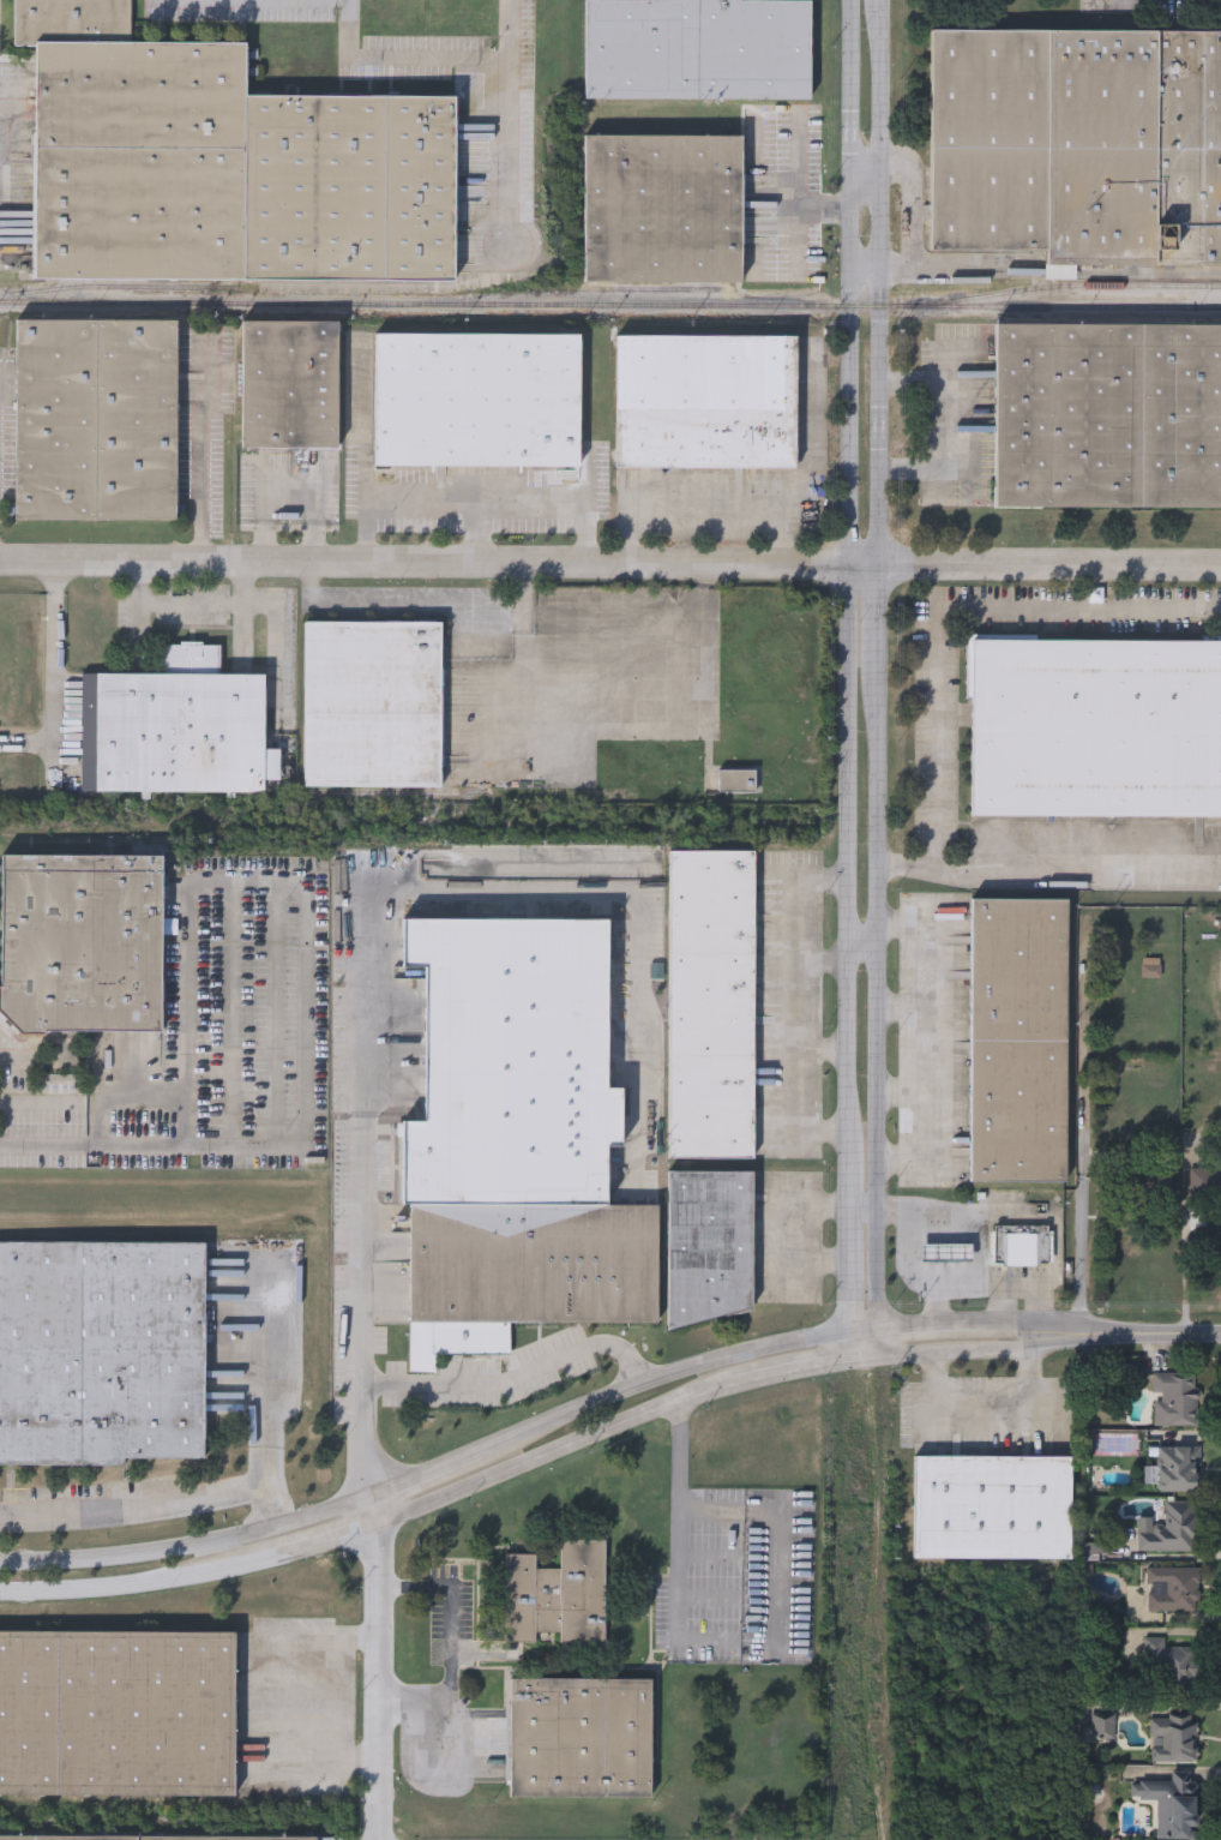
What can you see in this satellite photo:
road: (200, 1)
road: (510, 29)
building: (698, 50)
road: (440, 58)
building: (1077, 145)
building: (222, 166)
road: (865, 170)
road: (799, 200)
road: (910, 204)
building: (663, 210)
road: (865, 268)
road: (940, 268)
railway: (1071, 286)
railway: (607, 287)
railway: (128, 288)
railway: (609, 306)
railway: (1217, 307)
building: (290, 386)
building: (477, 402)
building: (705, 403)
building: (1107, 415)
building: (96, 421)
road: (204, 458)
road: (819, 475)
road: (290, 481)
road: (476, 510)
road: (630, 527)
road: (706, 529)
road: (477, 538)
road: (609, 567)
road: (245, 586)
road: (1096, 586)
road: (239, 605)
road: (421, 609)
road: (946, 609)
road: (877, 664)
road: (848, 665)
building: (373, 706)
building: (1095, 729)
building: (176, 730)
building: (738, 783)
road: (898, 865)
road: (1070, 881)
road: (303, 882)
road: (889, 925)
building: (80, 945)
road: (861, 945)
road: (823, 960)
road: (799, 1003)
building: (711, 1007)
road: (908, 1009)
road: (939, 1036)
building: (1017, 1042)
road: (823, 1053)
building: (510, 1061)
road: (907, 1095)
road: (96, 1102)
road: (95, 1147)
road: (892, 1158)
building: (1207, 1183)
road: (968, 1218)
building: (710, 1245)
building: (1019, 1246)
building: (945, 1253)
road: (1186, 1266)
building: (524, 1272)
road: (967, 1284)
road: (936, 1306)
road: (380, 1313)
road: (986, 1326)
road: (907, 1327)
road: (864, 1329)
road: (1204, 1335)
road: (1109, 1336)
road: (879, 1342)
road: (850, 1344)
road: (986, 1350)
building: (101, 1354)
road: (909, 1354)
road: (522, 1369)
road: (663, 1377)
road: (990, 1401)
building: (1174, 1401)
road: (426, 1469)
building: (1173, 1470)
road: (247, 1488)
road: (445, 1497)
road: (270, 1505)
building: (993, 1509)
road: (721, 1510)
building: (1171, 1530)
road: (187, 1544)
road: (405, 1588)
building: (1171, 1590)
building: (557, 1595)
road: (452, 1604)
road: (718, 1641)
road: (379, 1665)
building: (1168, 1673)
road: (443, 1700)
building: (116, 1714)
building: (579, 1739)
building: (1172, 1739)
building: (1171, 1804)
building: (145, 1838)

